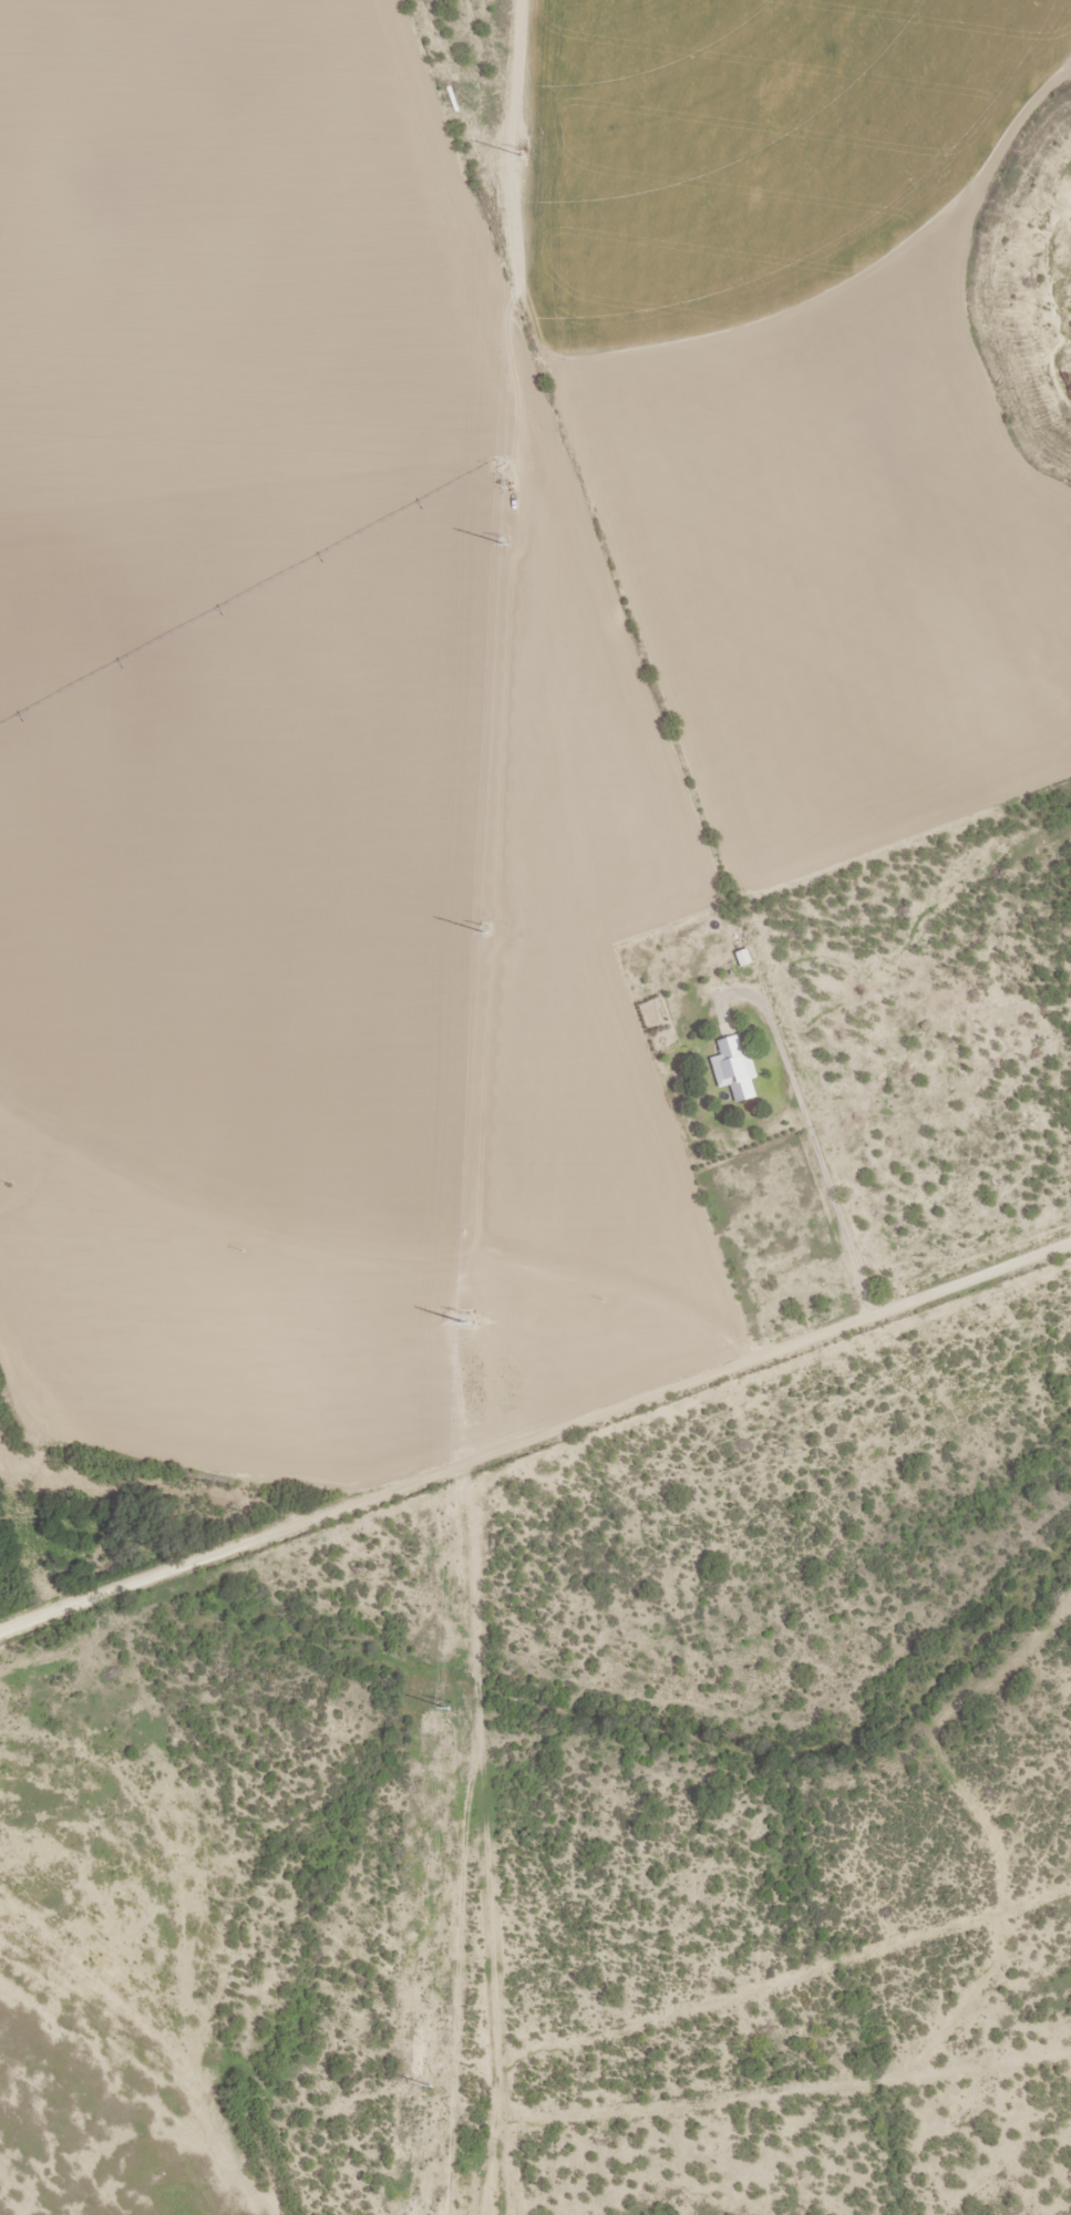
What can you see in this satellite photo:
power tower: (521, 148)
power tower: (501, 538)
power tower: (483, 926)
building: (735, 1068)
power tower: (465, 1312)
road: (534, 1434)
power tower: (446, 1701)
power tower: (429, 2090)

